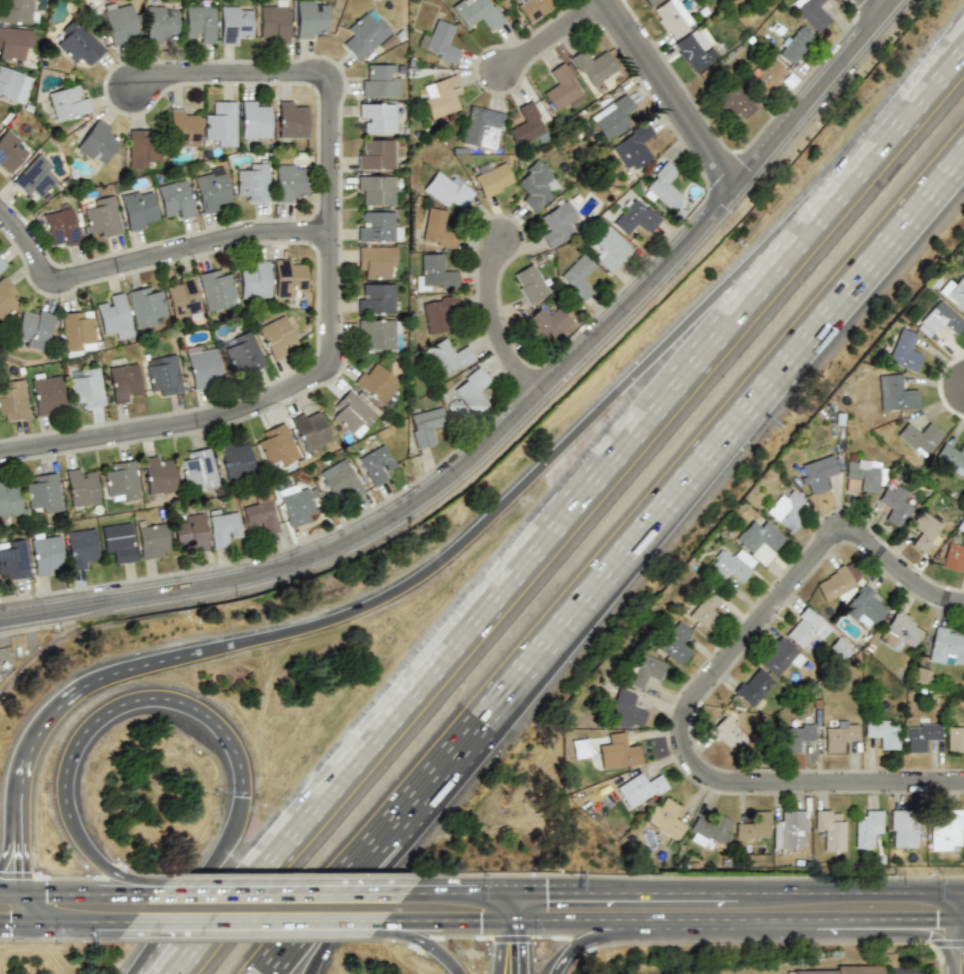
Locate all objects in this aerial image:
building: (650, 2)
building: (533, 8)
road: (879, 9)
building: (17, 11)
building: (477, 13)
building: (811, 14)
building: (673, 17)
building: (310, 18)
building: (275, 21)
building: (160, 22)
building: (118, 23)
building: (199, 24)
building: (236, 24)
road: (554, 34)
building: (367, 35)
building: (14, 41)
building: (441, 41)
building: (77, 42)
building: (793, 43)
building: (693, 51)
building: (591, 65)
road: (242, 73)
building: (766, 76)
building: (379, 80)
building: (13, 85)
building: (560, 88)
road: (921, 94)
building: (441, 96)
road: (675, 98)
road: (821, 100)
building: (66, 102)
building: (735, 102)
building: (378, 117)
building: (611, 117)
building: (255, 119)
building: (292, 119)
building: (220, 124)
building: (525, 126)
building: (481, 127)
building: (183, 128)
building: (98, 142)
building: (140, 148)
building: (631, 148)
building: (10, 151)
building: (375, 154)
building: (34, 176)
building: (491, 178)
building: (253, 182)
building: (291, 183)
building: (536, 184)
building: (661, 187)
building: (212, 189)
building: (375, 190)
building: (450, 190)
building: (174, 199)
building: (139, 209)
building: (102, 216)
building: (633, 217)
building: (556, 223)
building: (60, 226)
building: (377, 226)
building: (436, 228)
building: (608, 249)
road: (148, 259)
building: (377, 261)
building: (2, 265)
building: (433, 272)
building: (287, 276)
building: (576, 276)
building: (254, 279)
building: (529, 282)
building: (216, 290)
building: (954, 293)
building: (5, 297)
building: (183, 298)
building: (376, 298)
building: (146, 306)
building: (436, 315)
building: (115, 316)
building: (940, 320)
building: (546, 322)
building: (34, 328)
road: (501, 329)
building: (77, 330)
building: (378, 332)
building: (276, 334)
building: (905, 349)
building: (242, 351)
building: (451, 354)
building: (201, 365)
building: (163, 374)
road: (310, 379)
building: (123, 381)
building: (377, 382)
building: (86, 386)
building: (473, 390)
building: (900, 391)
building: (46, 393)
building: (13, 399)
building: (353, 411)
building: (426, 426)
building: (309, 429)
building: (919, 437)
building: (277, 446)
road: (567, 447)
building: (952, 456)
building: (235, 460)
building: (375, 464)
building: (199, 468)
building: (820, 472)
building: (158, 474)
building: (865, 475)
building: (340, 479)
building: (120, 481)
building: (81, 486)
building: (44, 492)
building: (9, 501)
road: (421, 505)
building: (894, 505)
building: (296, 506)
building: (787, 506)
building: (259, 515)
building: (222, 526)
building: (190, 532)
building: (925, 535)
building: (151, 540)
building: (759, 540)
building: (118, 542)
building: (80, 547)
building: (45, 552)
building: (953, 556)
building: (14, 559)
road: (524, 559)
building: (730, 564)
road: (896, 567)
road: (617, 568)
building: (835, 584)
building: (866, 607)
building: (705, 608)
building: (807, 627)
building: (900, 631)
building: (675, 642)
building: (947, 645)
building: (839, 649)
building: (780, 656)
building: (645, 671)
building: (920, 675)
building: (754, 687)
road: (63, 699)
road: (143, 699)
building: (626, 709)
building: (882, 731)
building: (728, 733)
building: (795, 736)
building: (839, 736)
building: (921, 736)
building: (955, 737)
building: (580, 746)
building: (618, 752)
road: (697, 764)
building: (640, 788)
building: (666, 818)
building: (753, 825)
building: (709, 828)
building: (868, 828)
building: (904, 828)
building: (830, 829)
building: (790, 830)
building: (945, 830)
road: (391, 860)
road: (17, 861)
traffic signals: (18, 867)
road: (102, 868)
road: (201, 890)
road: (827, 893)
road: (942, 893)
road: (88, 894)
road: (282, 894)
road: (456, 894)
road: (513, 894)
traffic signals: (548, 894)
road: (629, 894)
road: (9, 895)
traffic signals: (47, 895)
road: (504, 908)
road: (522, 908)
road: (28, 911)
road: (887, 920)
traffic signals: (936, 920)
road: (666, 921)
road: (259, 922)
road: (444, 922)
traffic signals: (482, 922)
road: (513, 922)
road: (89, 923)
traffic signals: (11, 924)
road: (21, 924)
road: (591, 941)
road: (426, 943)
road: (520, 947)
road: (500, 948)
traffic signals: (520, 950)
building: (845, 970)
road: (897, 972)

